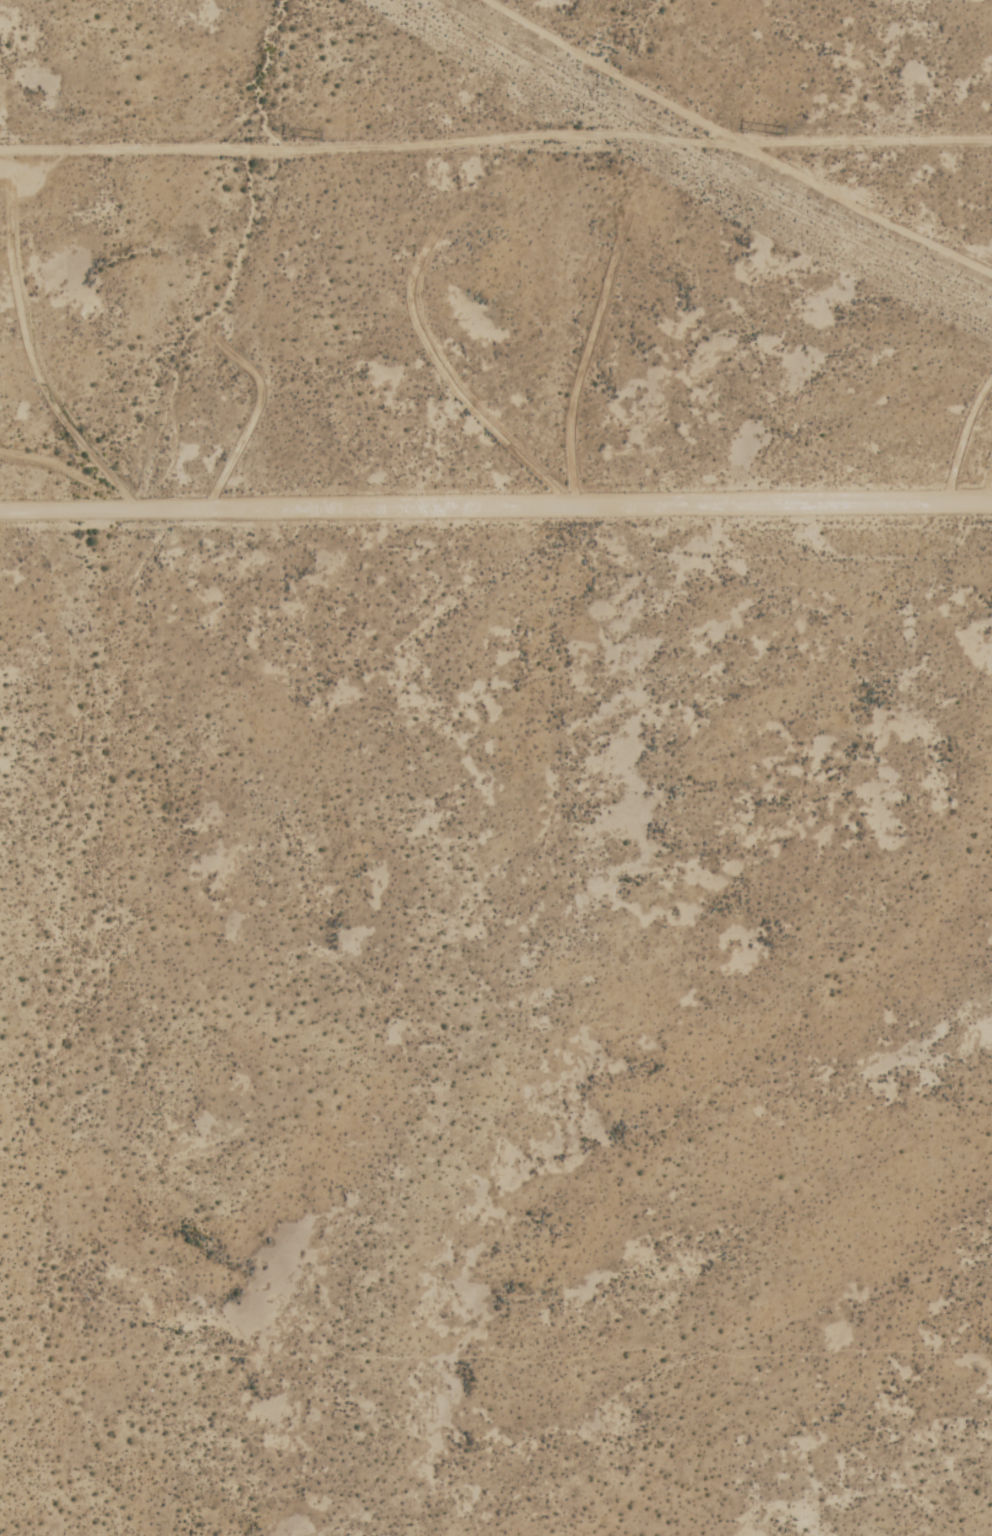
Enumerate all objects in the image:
power tower: (775, 130)
power tower: (316, 134)
road: (736, 142)
road: (496, 144)
road: (496, 505)

